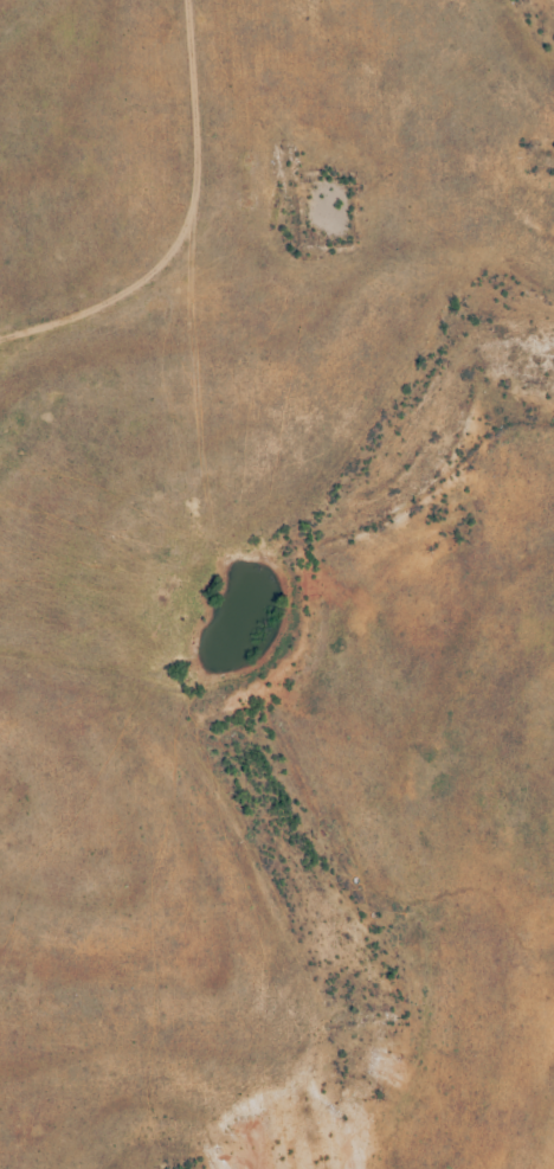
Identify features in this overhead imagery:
road: (197, 216)

